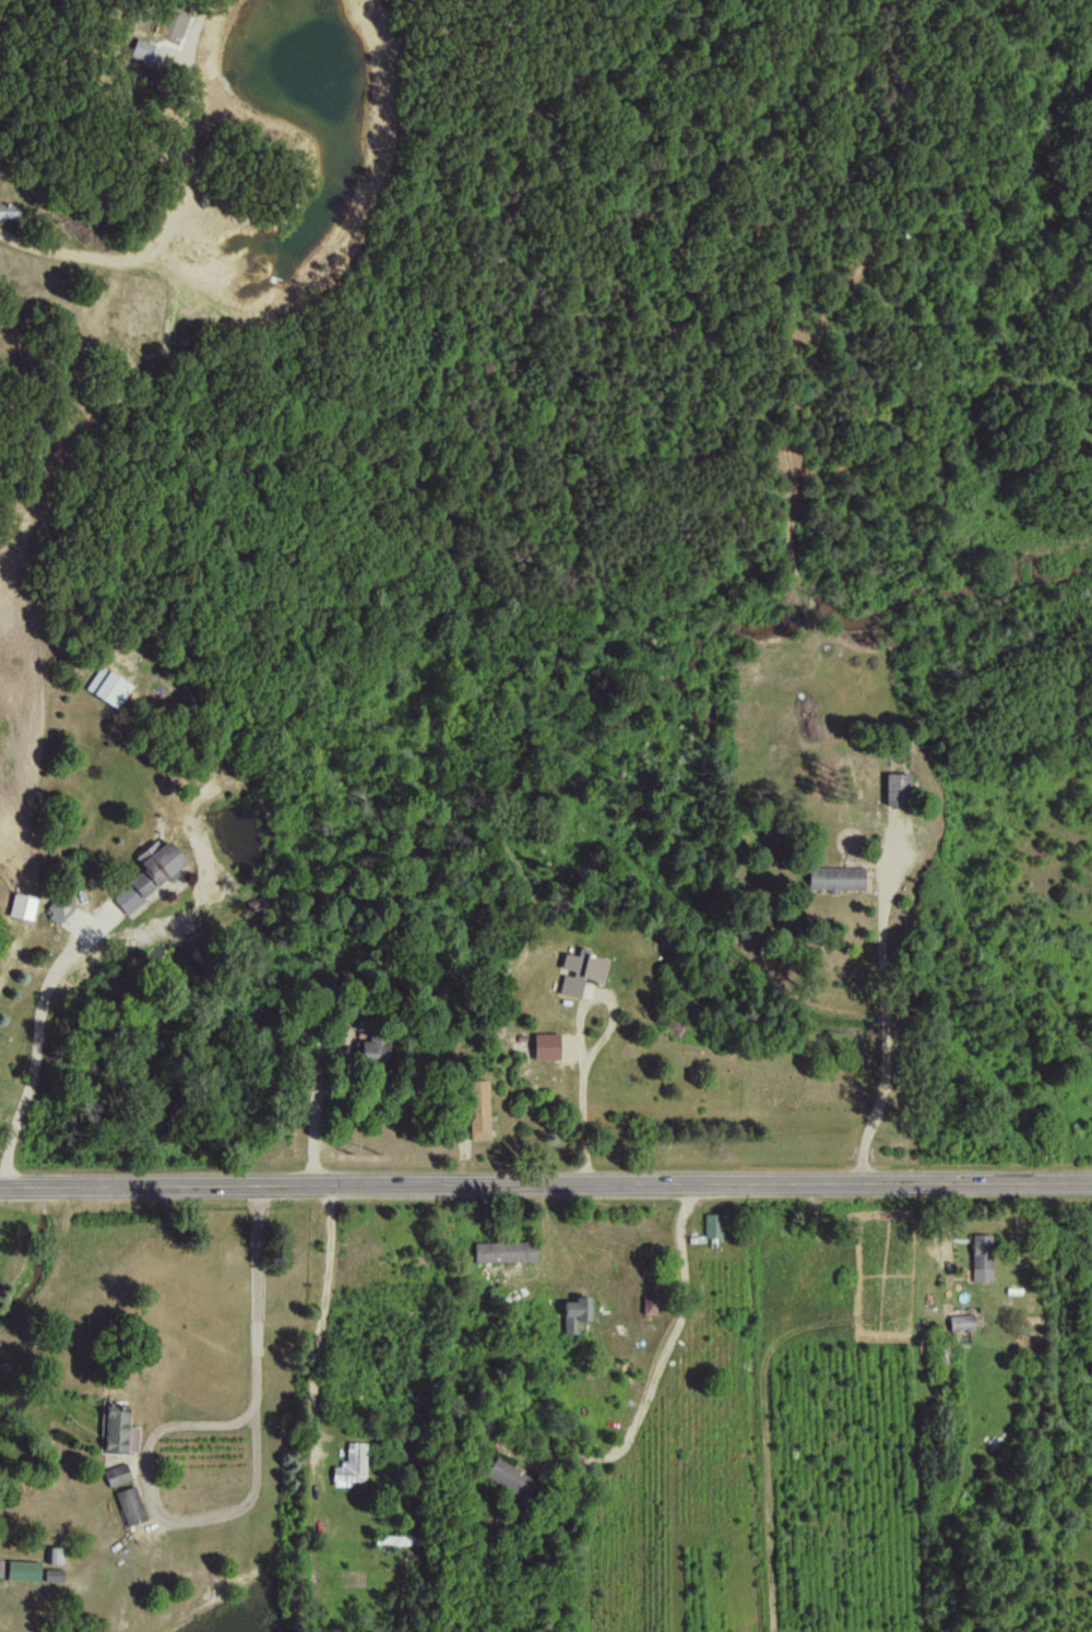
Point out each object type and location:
building: (173, 23)
building: (141, 49)
building: (8, 211)
road: (25, 541)
building: (107, 687)
building: (894, 788)
building: (146, 873)
building: (833, 877)
building: (20, 906)
building: (59, 908)
building: (583, 965)
building: (568, 986)
road: (883, 1028)
road: (579, 1036)
building: (544, 1046)
building: (370, 1051)
road: (38, 1058)
building: (477, 1109)
road: (313, 1131)
road: (545, 1186)
building: (711, 1225)
building: (502, 1250)
building: (980, 1258)
building: (648, 1306)
building: (573, 1311)
road: (328, 1318)
building: (959, 1322)
building: (117, 1428)
building: (351, 1464)
building: (115, 1473)
building: (508, 1477)
road: (258, 1487)
building: (128, 1504)
building: (54, 1553)
building: (20, 1569)
building: (50, 1573)

